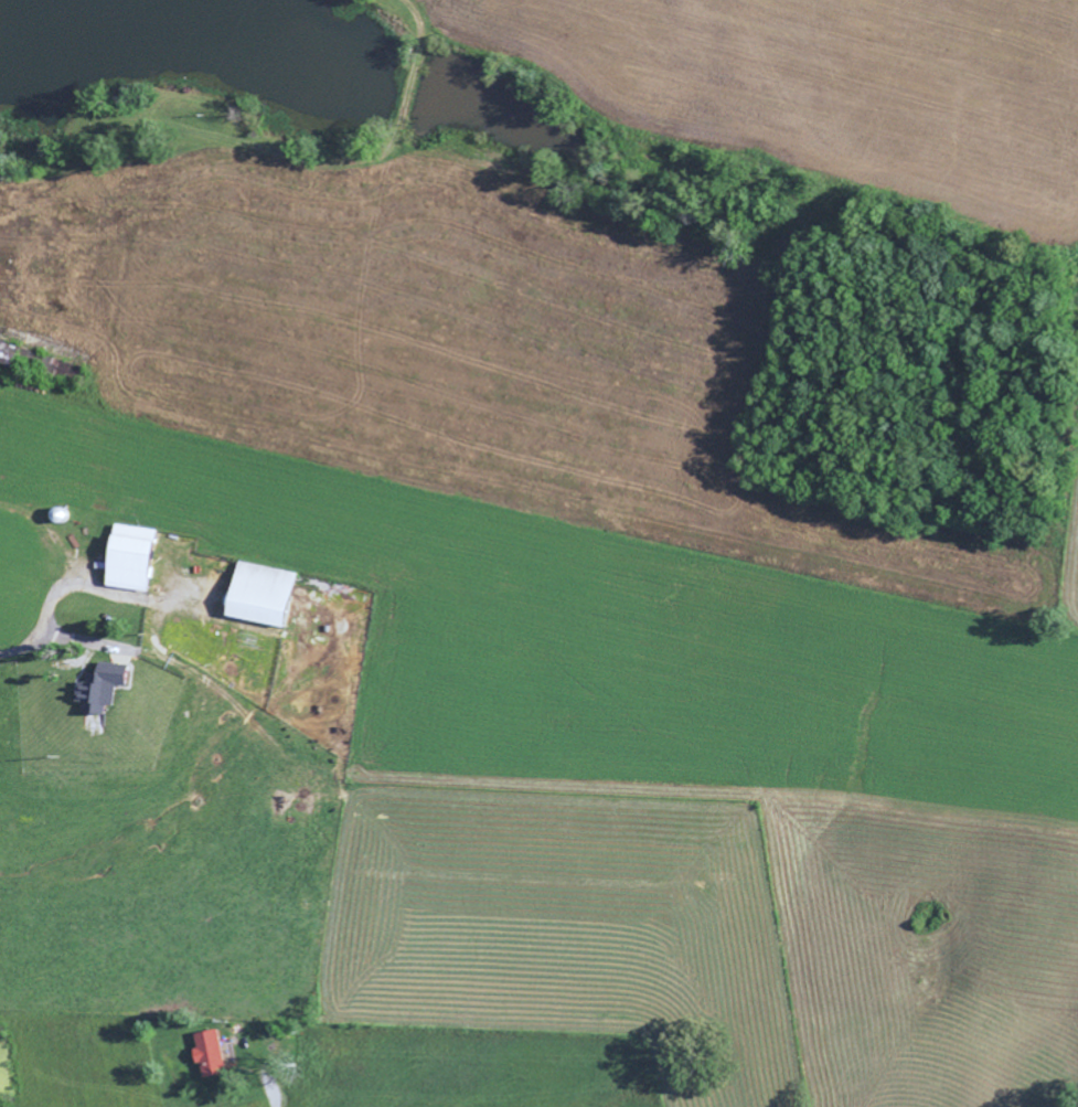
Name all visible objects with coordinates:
building: (141, 556)
building: (273, 594)
road: (53, 597)
road: (83, 639)
building: (110, 686)
building: (216, 1053)
road: (268, 1093)

